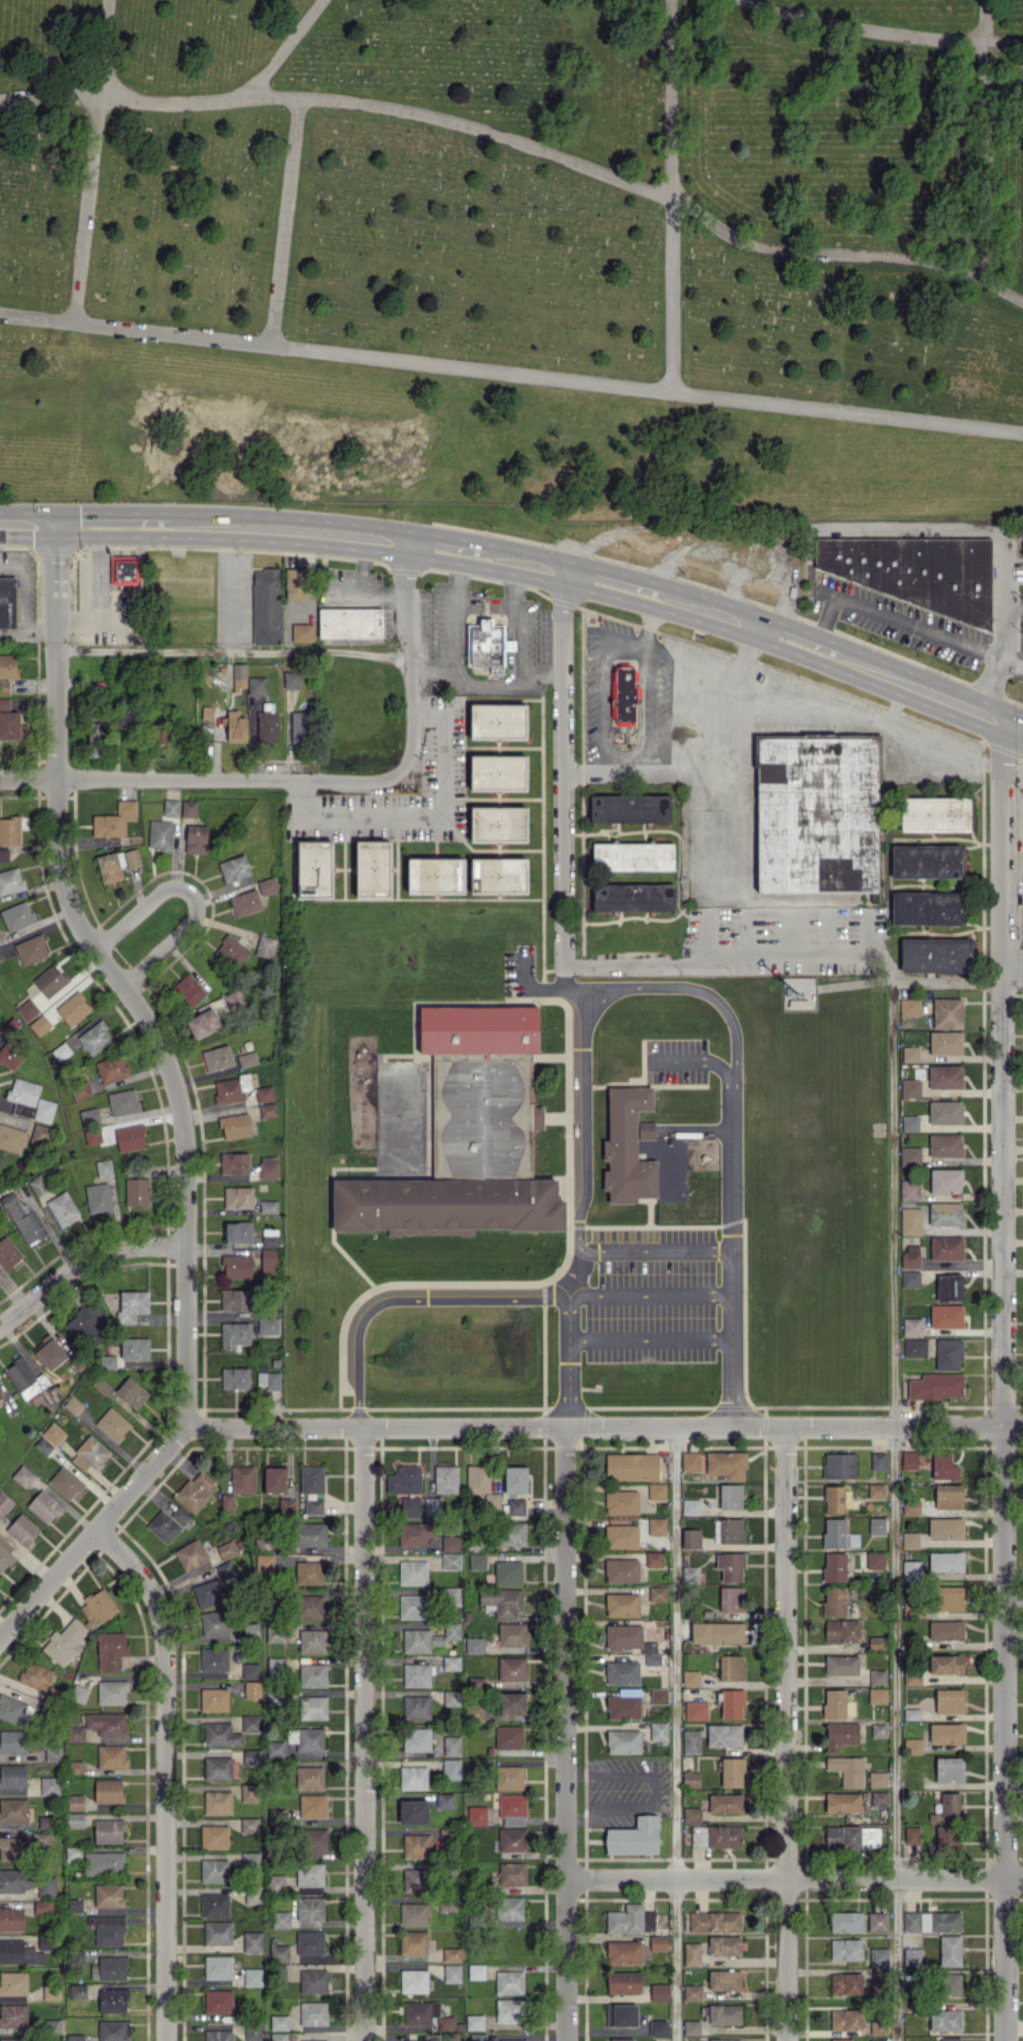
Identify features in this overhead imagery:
road: (881, 32)
road: (283, 49)
road: (988, 142)
road: (523, 145)
road: (92, 161)
road: (671, 196)
road: (286, 222)
park: (514, 257)
road: (511, 374)
road: (27, 524)
traffic signals: (54, 524)
road: (106, 526)
road: (867, 530)
road: (282, 531)
road: (445, 549)
road: (523, 564)
building: (124, 571)
building: (915, 571)
building: (295, 583)
road: (610, 584)
road: (24, 590)
building: (7, 602)
building: (266, 606)
road: (1012, 607)
road: (708, 610)
building: (350, 622)
road: (823, 623)
building: (302, 632)
road: (27, 633)
road: (798, 641)
building: (487, 645)
road: (233, 650)
road: (744, 654)
road: (410, 656)
building: (8, 665)
road: (1012, 668)
road: (869, 669)
road: (432, 670)
building: (239, 676)
road: (647, 678)
building: (291, 679)
building: (256, 685)
road: (477, 685)
building: (4, 687)
building: (624, 694)
road: (797, 700)
road: (951, 700)
road: (894, 705)
building: (207, 712)
road: (603, 720)
building: (497, 721)
building: (11, 723)
road: (1011, 724)
building: (267, 726)
building: (301, 726)
building: (235, 727)
building: (162, 732)
building: (96, 739)
road: (648, 761)
road: (604, 762)
road: (562, 766)
road: (690, 770)
building: (497, 773)
road: (203, 778)
building: (171, 808)
building: (189, 808)
building: (630, 808)
road: (414, 813)
building: (817, 813)
building: (934, 814)
building: (114, 820)
building: (497, 824)
building: (9, 831)
building: (160, 834)
building: (196, 839)
building: (4, 854)
building: (632, 856)
building: (927, 861)
building: (116, 864)
building: (234, 868)
building: (372, 868)
building: (314, 869)
building: (435, 875)
building: (498, 875)
building: (10, 881)
building: (267, 885)
road: (191, 895)
building: (632, 897)
building: (246, 902)
building: (927, 907)
building: (17, 916)
building: (0, 939)
building: (265, 946)
building: (31, 949)
building: (232, 951)
road: (797, 955)
building: (935, 955)
building: (0, 958)
road: (626, 960)
road: (524, 966)
parking lot: (519, 971)
road: (1011, 972)
road: (563, 974)
building: (50, 980)
road: (945, 981)
road: (555, 988)
road: (696, 988)
building: (189, 990)
building: (798, 1003)
building: (909, 1007)
building: (73, 1008)
building: (27, 1009)
building: (947, 1013)
building: (203, 1023)
building: (40, 1024)
building: (95, 1037)
building: (945, 1042)
building: (11, 1054)
building: (910, 1054)
building: (217, 1057)
building: (247, 1059)
parking lot: (675, 1061)
road: (692, 1061)
building: (111, 1068)
building: (945, 1076)
building: (231, 1088)
building: (910, 1088)
building: (81, 1090)
building: (264, 1093)
building: (29, 1100)
road: (177, 1100)
building: (123, 1102)
building: (267, 1110)
building: (945, 1112)
building: (89, 1115)
road: (585, 1119)
building: (910, 1123)
building: (235, 1125)
building: (467, 1133)
building: (40, 1134)
building: (92, 1135)
building: (130, 1137)
building: (11, 1138)
building: (628, 1144)
building: (945, 1145)
building: (910, 1156)
building: (234, 1163)
building: (268, 1167)
building: (104, 1168)
building: (946, 1181)
building: (38, 1185)
building: (909, 1190)
building: (136, 1192)
building: (98, 1197)
building: (238, 1197)
building: (268, 1206)
building: (63, 1208)
building: (945, 1214)
building: (22, 1216)
building: (910, 1221)
building: (238, 1231)
building: (269, 1237)
building: (946, 1248)
road: (655, 1249)
building: (8, 1253)
road: (732, 1253)
building: (910, 1256)
road: (83, 1260)
building: (269, 1260)
building: (236, 1266)
road: (573, 1271)
building: (910, 1279)
building: (949, 1287)
road: (650, 1292)
road: (404, 1293)
parking lot: (652, 1295)
building: (235, 1300)
building: (132, 1305)
building: (946, 1316)
building: (86, 1324)
building: (268, 1326)
building: (912, 1326)
building: (235, 1334)
road: (650, 1339)
building: (914, 1347)
building: (135, 1348)
building: (54, 1354)
building: (948, 1354)
road: (569, 1359)
building: (109, 1361)
building: (235, 1377)
building: (24, 1378)
building: (269, 1379)
road: (1001, 1380)
building: (101, 1385)
building: (936, 1386)
building: (132, 1392)
building: (0, 1397)
building: (73, 1405)
building: (112, 1424)
road: (604, 1426)
building: (53, 1433)
building: (43, 1445)
building: (90, 1454)
building: (690, 1461)
building: (878, 1461)
building: (727, 1464)
building: (911, 1464)
building: (839, 1465)
building: (631, 1466)
building: (23, 1476)
building: (242, 1479)
building: (275, 1479)
building: (311, 1479)
building: (445, 1479)
building: (477, 1479)
building: (515, 1479)
building: (404, 1480)
building: (65, 1482)
building: (196, 1491)
building: (656, 1491)
building: (876, 1492)
building: (731, 1496)
building: (948, 1496)
building: (834, 1498)
building: (227, 1501)
building: (621, 1501)
building: (4, 1503)
building: (432, 1505)
building: (44, 1506)
building: (314, 1506)
building: (409, 1506)
building: (690, 1506)
building: (910, 1506)
building: (516, 1507)
road: (894, 1510)
building: (168, 1523)
building: (656, 1526)
building: (945, 1527)
building: (22, 1530)
building: (728, 1530)
building: (415, 1533)
building: (512, 1534)
building: (838, 1534)
building: (311, 1535)
building: (621, 1536)
building: (691, 1538)
building: (909, 1540)
building: (261, 1543)
building: (450, 1543)
building: (227, 1549)
building: (190, 1554)
building: (5, 1555)
building: (653, 1559)
building: (875, 1560)
building: (451, 1561)
building: (477, 1561)
building: (946, 1561)
building: (265, 1563)
building: (730, 1566)
building: (834, 1567)
building: (621, 1570)
building: (911, 1571)
building: (309, 1572)
building: (412, 1572)
building: (508, 1572)
building: (689, 1574)
building: (208, 1593)
building: (657, 1593)
building: (451, 1594)
building: (949, 1598)
building: (731, 1599)
building: (834, 1601)
building: (502, 1602)
building: (622, 1604)
building: (98, 1606)
building: (311, 1606)
building: (412, 1606)
building: (215, 1622)
building: (250, 1630)
building: (452, 1630)
building: (842, 1630)
building: (946, 1630)
building: (717, 1632)
building: (275, 1633)
building: (512, 1634)
building: (622, 1636)
building: (64, 1641)
building: (312, 1641)
building: (418, 1641)
building: (876, 1642)
building: (474, 1645)
building: (648, 1647)
building: (110, 1650)
building: (214, 1659)
building: (652, 1659)
building: (451, 1663)
building: (841, 1664)
building: (946, 1664)
building: (276, 1666)
building: (731, 1667)
building: (512, 1668)
building: (250, 1670)
building: (622, 1672)
building: (214, 1674)
building: (35, 1675)
building: (312, 1675)
building: (416, 1675)
building: (690, 1677)
building: (877, 1677)
building: (912, 1677)
building: (476, 1681)
building: (252, 1689)
building: (112, 1692)
building: (80, 1694)
building: (658, 1695)
building: (877, 1695)
building: (451, 1698)
building: (213, 1699)
building: (949, 1701)
building: (512, 1703)
building: (834, 1703)
building: (624, 1704)
building: (732, 1704)
building: (312, 1707)
building: (416, 1707)
building: (14, 1710)
building: (696, 1710)
building: (475, 1713)
building: (911, 1714)
building: (107, 1723)
building: (250, 1723)
building: (878, 1730)
building: (658, 1731)
road: (566, 1733)
road: (676, 1733)
road: (784, 1733)
building: (946, 1733)
building: (74, 1734)
building: (221, 1734)
road: (362, 1734)
building: (841, 1734)
building: (724, 1735)
building: (508, 1736)
building: (416, 1739)
building: (310, 1740)
building: (12, 1741)
building: (623, 1741)
building: (691, 1741)
building: (451, 1746)
building: (912, 1746)
building: (275, 1748)
building: (53, 1753)
building: (111, 1756)
building: (251, 1756)
building: (75, 1767)
building: (217, 1768)
building: (451, 1769)
building: (949, 1769)
building: (847, 1770)
building: (732, 1772)
road: (165, 1773)
building: (13, 1776)
building: (413, 1777)
building: (508, 1777)
building: (309, 1778)
building: (690, 1779)
building: (877, 1779)
building: (49, 1785)
building: (108, 1790)
building: (249, 1793)
road: (652, 1793)
building: (879, 1798)
building: (445, 1800)
building: (75, 1802)
building: (217, 1802)
building: (842, 1802)
building: (725, 1803)
building: (512, 1804)
building: (950, 1805)
building: (313, 1806)
building: (13, 1810)
building: (413, 1812)
building: (476, 1815)
building: (692, 1815)
building: (278, 1816)
building: (75, 1820)
building: (517, 1820)
building: (249, 1825)
building: (108, 1831)
building: (445, 1835)
building: (911, 1835)
building: (214, 1836)
building: (716, 1836)
building: (634, 1837)
building: (851, 1837)
building: (947, 1838)
building: (42, 1839)
building: (512, 1839)
building: (313, 1840)
building: (416, 1846)
building: (13, 1848)
building: (73, 1853)
building: (250, 1858)
building: (104, 1862)
building: (213, 1870)
building: (512, 1873)
building: (309, 1874)
road: (794, 1877)
building: (16, 1880)
building: (415, 1880)
building: (277, 1882)
building: (46, 1885)
building: (108, 1895)
building: (253, 1895)
building: (75, 1905)
building: (214, 1905)
building: (43, 1907)
building: (310, 1908)
building: (510, 1908)
building: (413, 1914)
building: (11, 1919)
building: (280, 1919)
building: (630, 1919)
building: (714, 1921)
building: (846, 1921)
building: (877, 1921)
building: (931, 1921)
building: (108, 1930)
building: (218, 1932)
building: (252, 1941)
building: (310, 1942)
building: (413, 1942)
building: (657, 1943)
building: (724, 1945)
building: (845, 1949)
building: (950, 1950)
building: (19, 1952)
building: (279, 1952)
building: (624, 1953)
building: (451, 1954)
building: (691, 1954)
building: (879, 1956)
building: (912, 1956)
building: (218, 1967)
building: (109, 1968)
building: (476, 1971)
building: (452, 1973)
building: (253, 1977)
building: (724, 1979)
building: (413, 1980)
building: (313, 1981)
building: (509, 1982)
building: (623, 1982)
building: (13, 1983)
building: (846, 1983)
building: (949, 1983)
building: (77, 1991)
building: (51, 1992)
building: (659, 1992)
building: (692, 1992)
building: (112, 2000)
building: (218, 2001)
building: (509, 2010)
building: (420, 2012)
building: (313, 2013)
building: (724, 2014)
building: (13, 2015)
building: (621, 2015)
building: (845, 2019)
building: (945, 2020)
building: (279, 2022)
building: (475, 2022)
building: (449, 2024)
building: (52, 2026)
building: (657, 2027)
building: (691, 2027)
building: (114, 2030)
building: (253, 2033)
building: (218, 2035)
building: (279, 2036)
building: (75, 2037)
building: (476, 2037)
building: (13, 2039)
building: (621, 2039)
building: (840, 2039)
building: (950, 2039)
building: (313, 2040)
building: (416, 2040)
building: (513, 2040)
building: (720, 2040)
building: (877, 2040)

